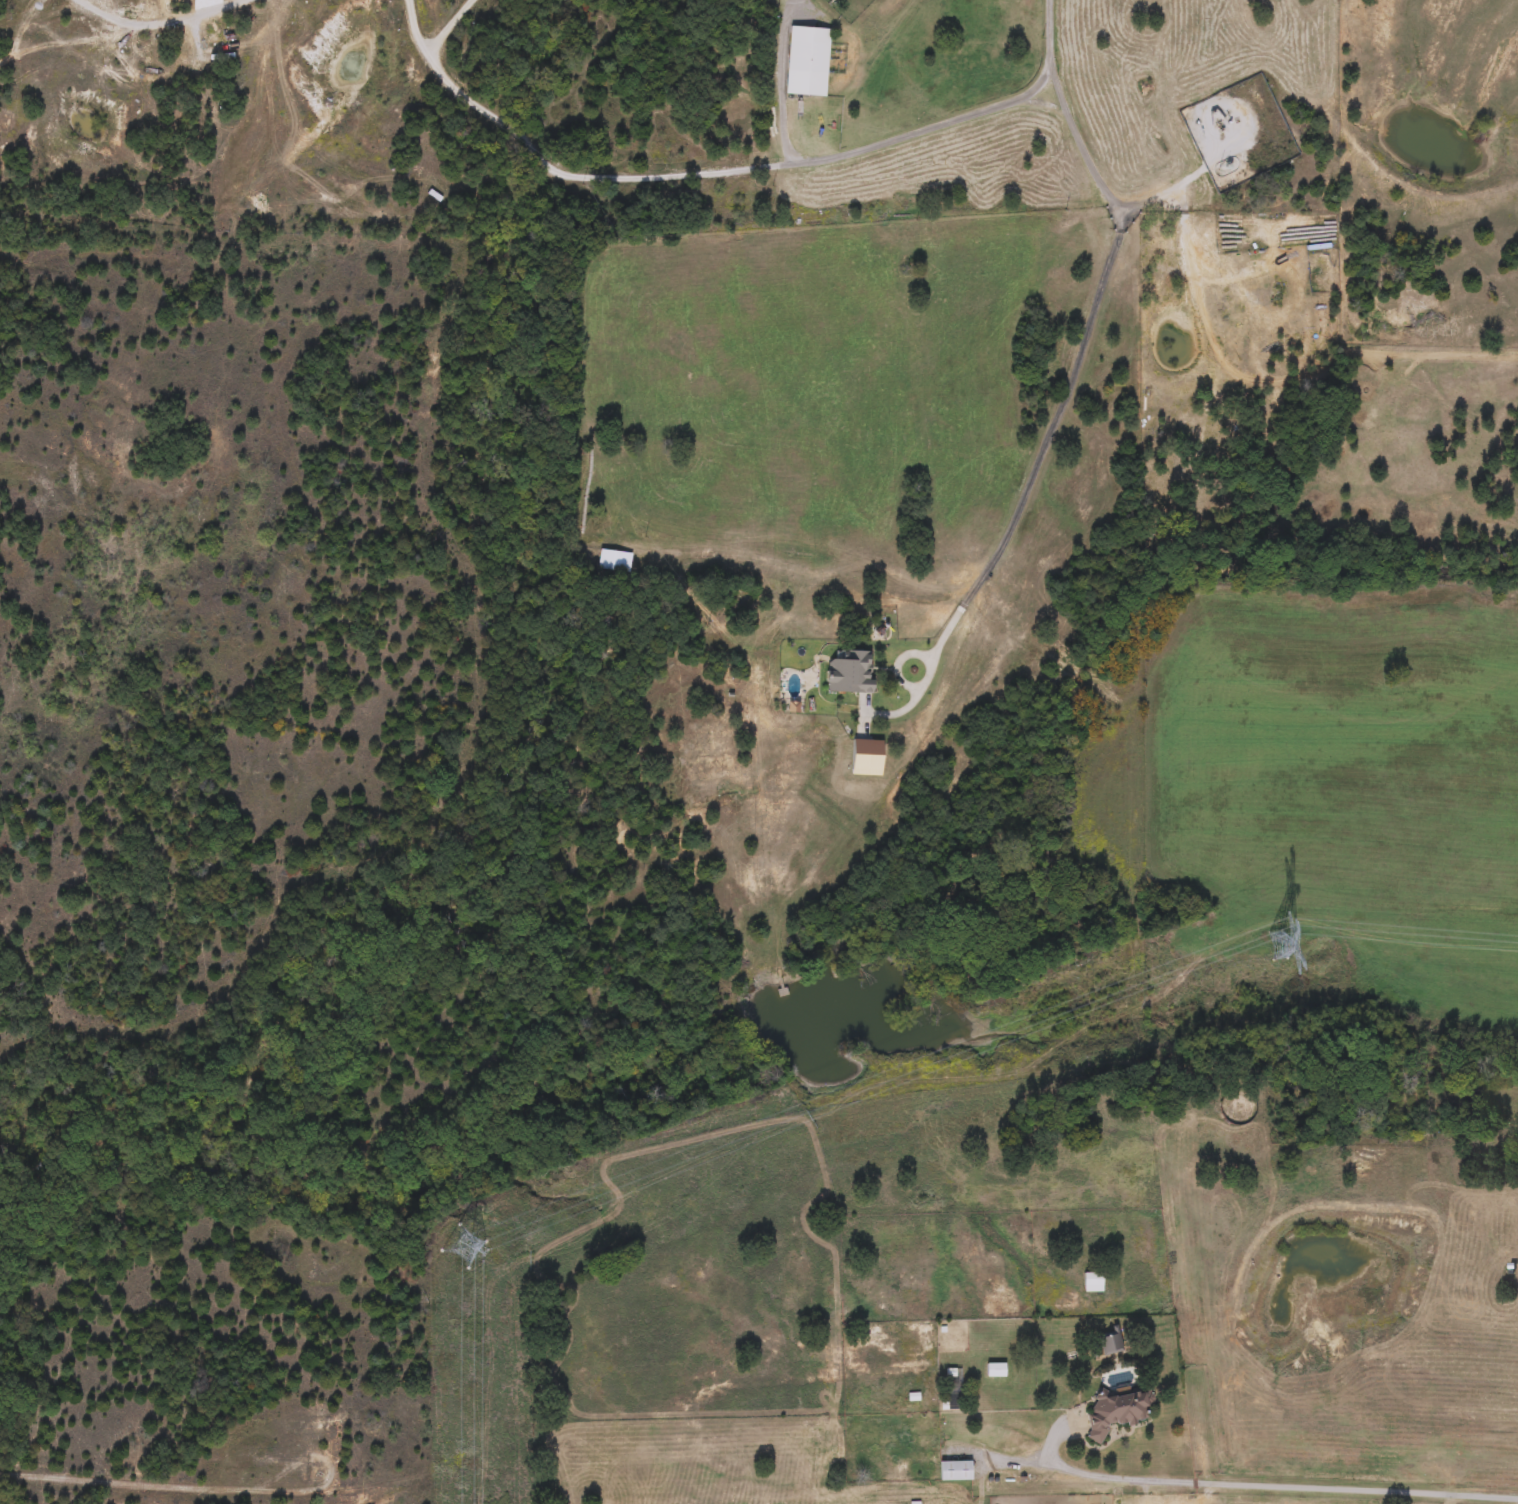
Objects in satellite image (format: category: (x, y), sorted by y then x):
road: (160, 24)
road: (416, 37)
building: (807, 57)
road: (776, 81)
road: (287, 132)
road: (691, 172)
road: (1078, 335)
building: (612, 560)
building: (851, 671)
power tower: (1277, 945)
power tower: (460, 1246)
building: (1092, 1281)
building: (1109, 1342)
building: (995, 1370)
building: (952, 1388)
building: (1119, 1409)
building: (955, 1470)
road: (1057, 1470)
road: (1323, 1489)

